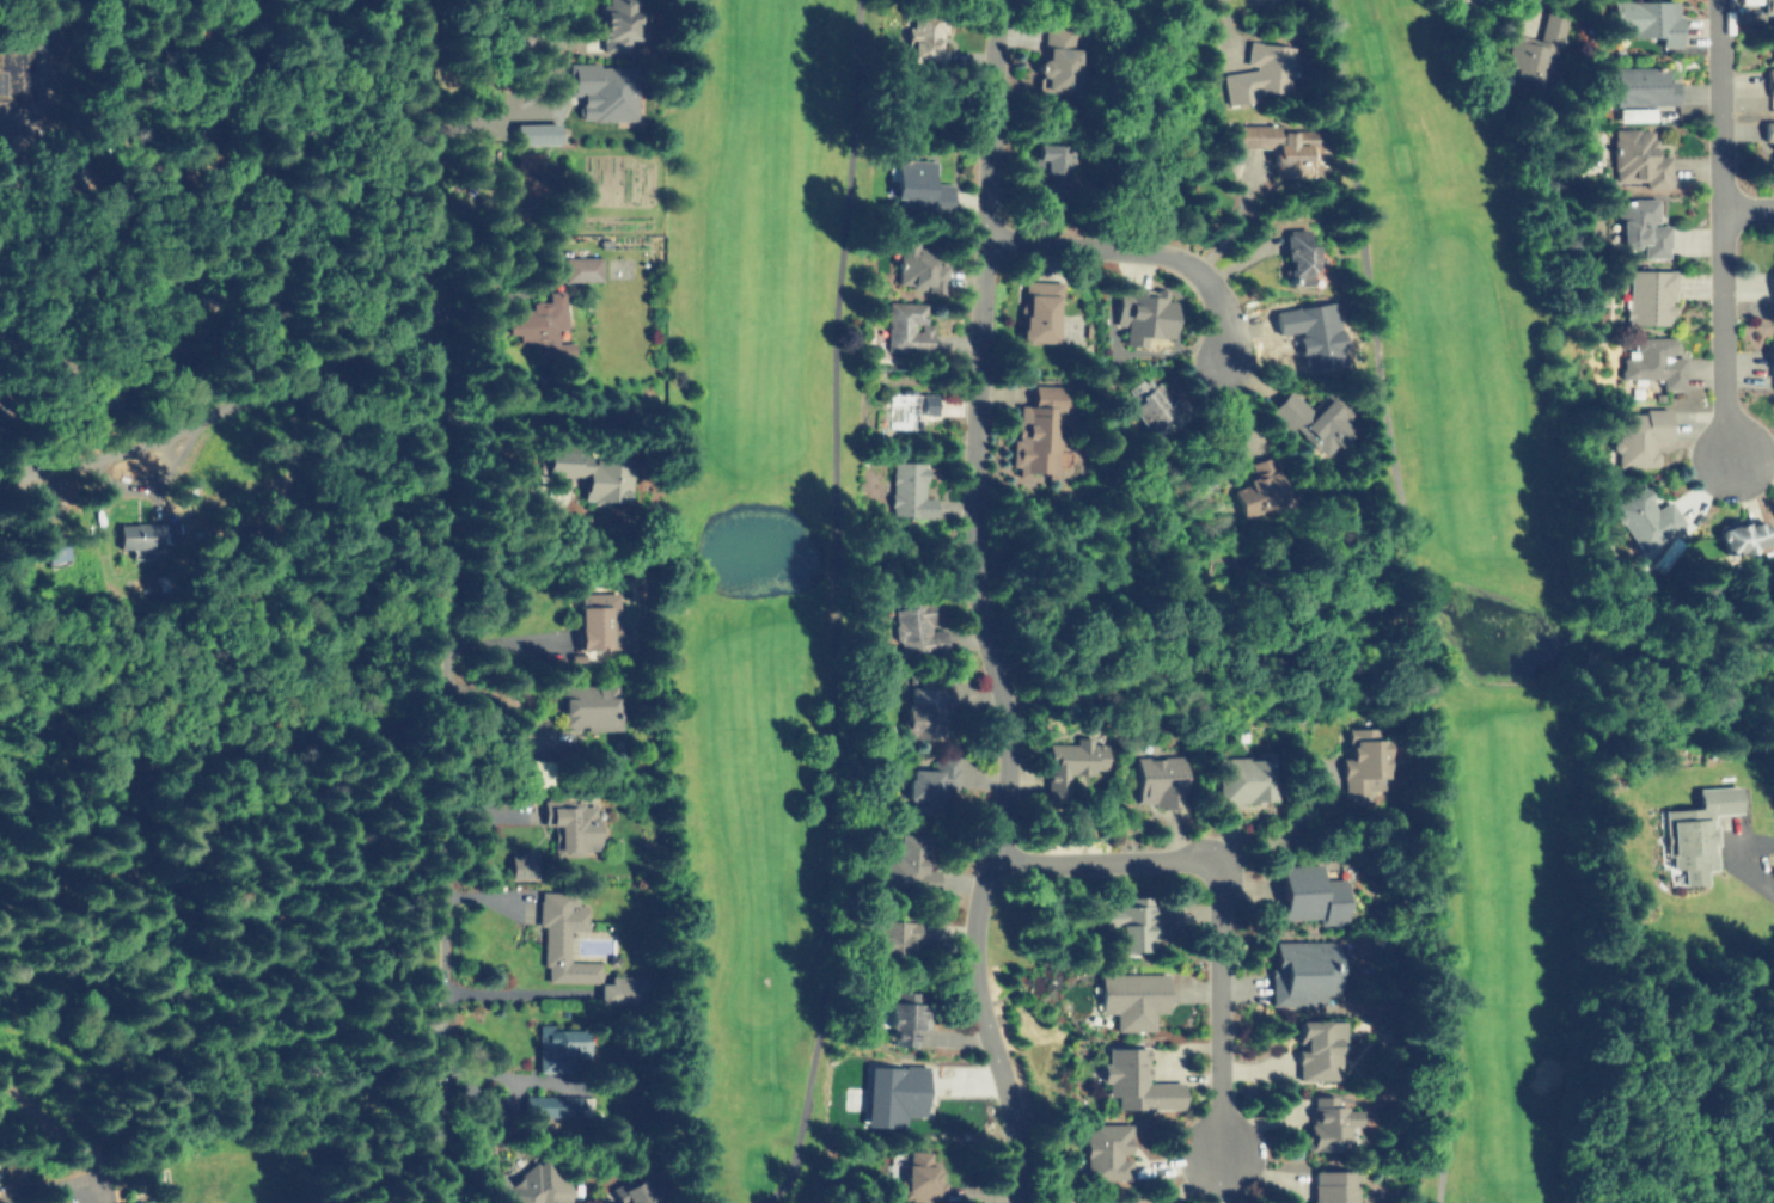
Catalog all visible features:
building: (1769, 8)
building: (618, 18)
building: (1646, 18)
road: (1225, 27)
building: (922, 38)
building: (1533, 45)
building: (1059, 55)
building: (1260, 72)
building: (1769, 76)
building: (1641, 85)
building: (606, 92)
building: (1634, 111)
building: (1770, 130)
building: (539, 134)
building: (1277, 140)
building: (1634, 158)
building: (527, 161)
building: (1050, 165)
building: (531, 184)
building: (918, 188)
building: (528, 204)
road: (1749, 207)
building: (1639, 226)
road: (1724, 228)
road: (1130, 251)
building: (1299, 252)
building: (916, 262)
building: (577, 263)
building: (1769, 274)
building: (1647, 294)
building: (183, 305)
building: (1034, 312)
building: (1139, 315)
building: (537, 324)
building: (904, 326)
building: (1308, 333)
building: (1768, 354)
building: (1651, 357)
road: (210, 393)
building: (1144, 401)
building: (910, 406)
building: (1313, 419)
building: (1040, 428)
building: (1639, 432)
building: (593, 469)
building: (909, 491)
building: (1256, 491)
building: (1643, 516)
building: (133, 534)
building: (1738, 536)
building: (1659, 551)
park: (1469, 566)
park: (770, 582)
road: (448, 600)
road: (986, 604)
building: (599, 621)
building: (916, 627)
building: (923, 704)
building: (589, 705)
building: (1360, 755)
building: (1069, 763)
building: (534, 767)
building: (1243, 777)
building: (1158, 778)
building: (929, 782)
building: (569, 818)
road: (1274, 830)
building: (1689, 831)
building: (525, 865)
building: (907, 867)
building: (1311, 894)
road: (1213, 900)
building: (1126, 921)
building: (561, 934)
building: (894, 939)
road: (166, 965)
building: (1304, 971)
building: (622, 986)
building: (1131, 999)
building: (901, 1009)
building: (1315, 1045)
building: (561, 1048)
road: (280, 1054)
building: (1136, 1079)
building: (889, 1097)
building: (552, 1103)
building: (1328, 1121)
building: (1109, 1149)
building: (919, 1179)
building: (531, 1181)
building: (1333, 1186)
building: (641, 1191)
building: (141, 1202)
building: (1108, 1202)

